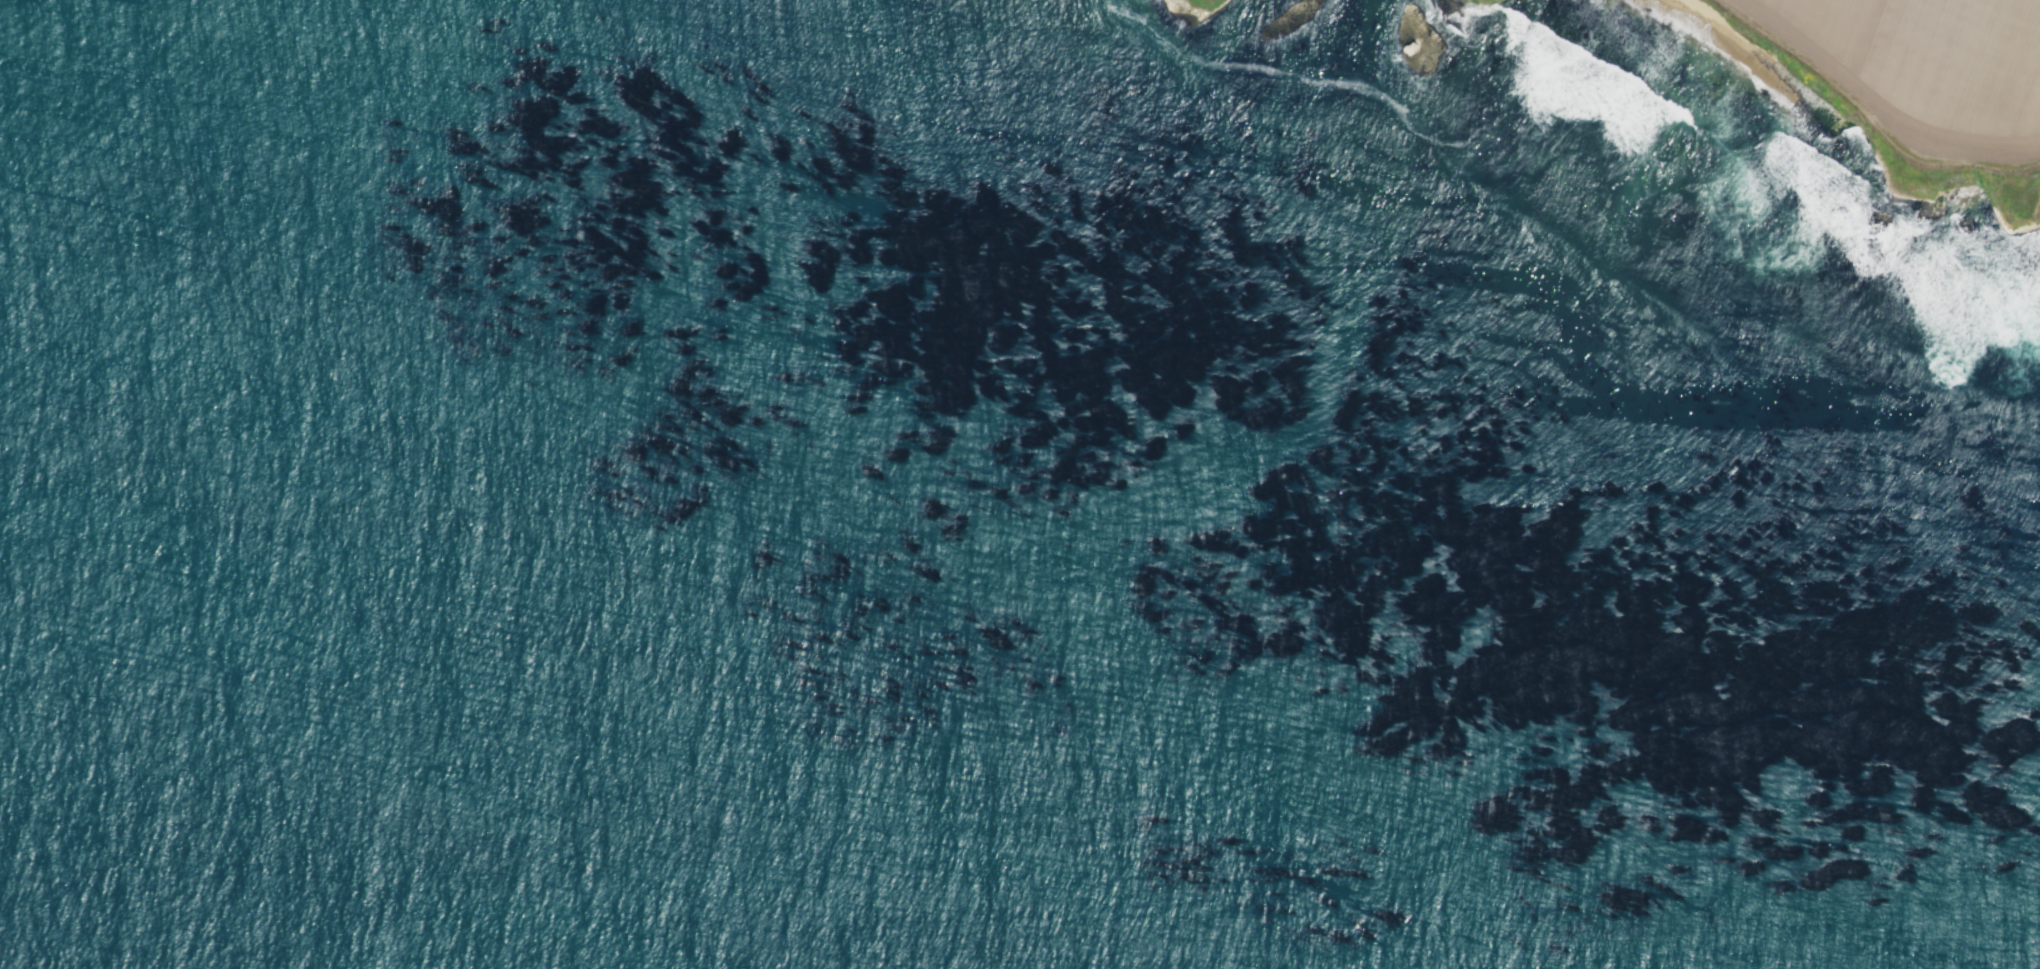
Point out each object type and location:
crop: (1882, 77)
road: (1867, 114)

